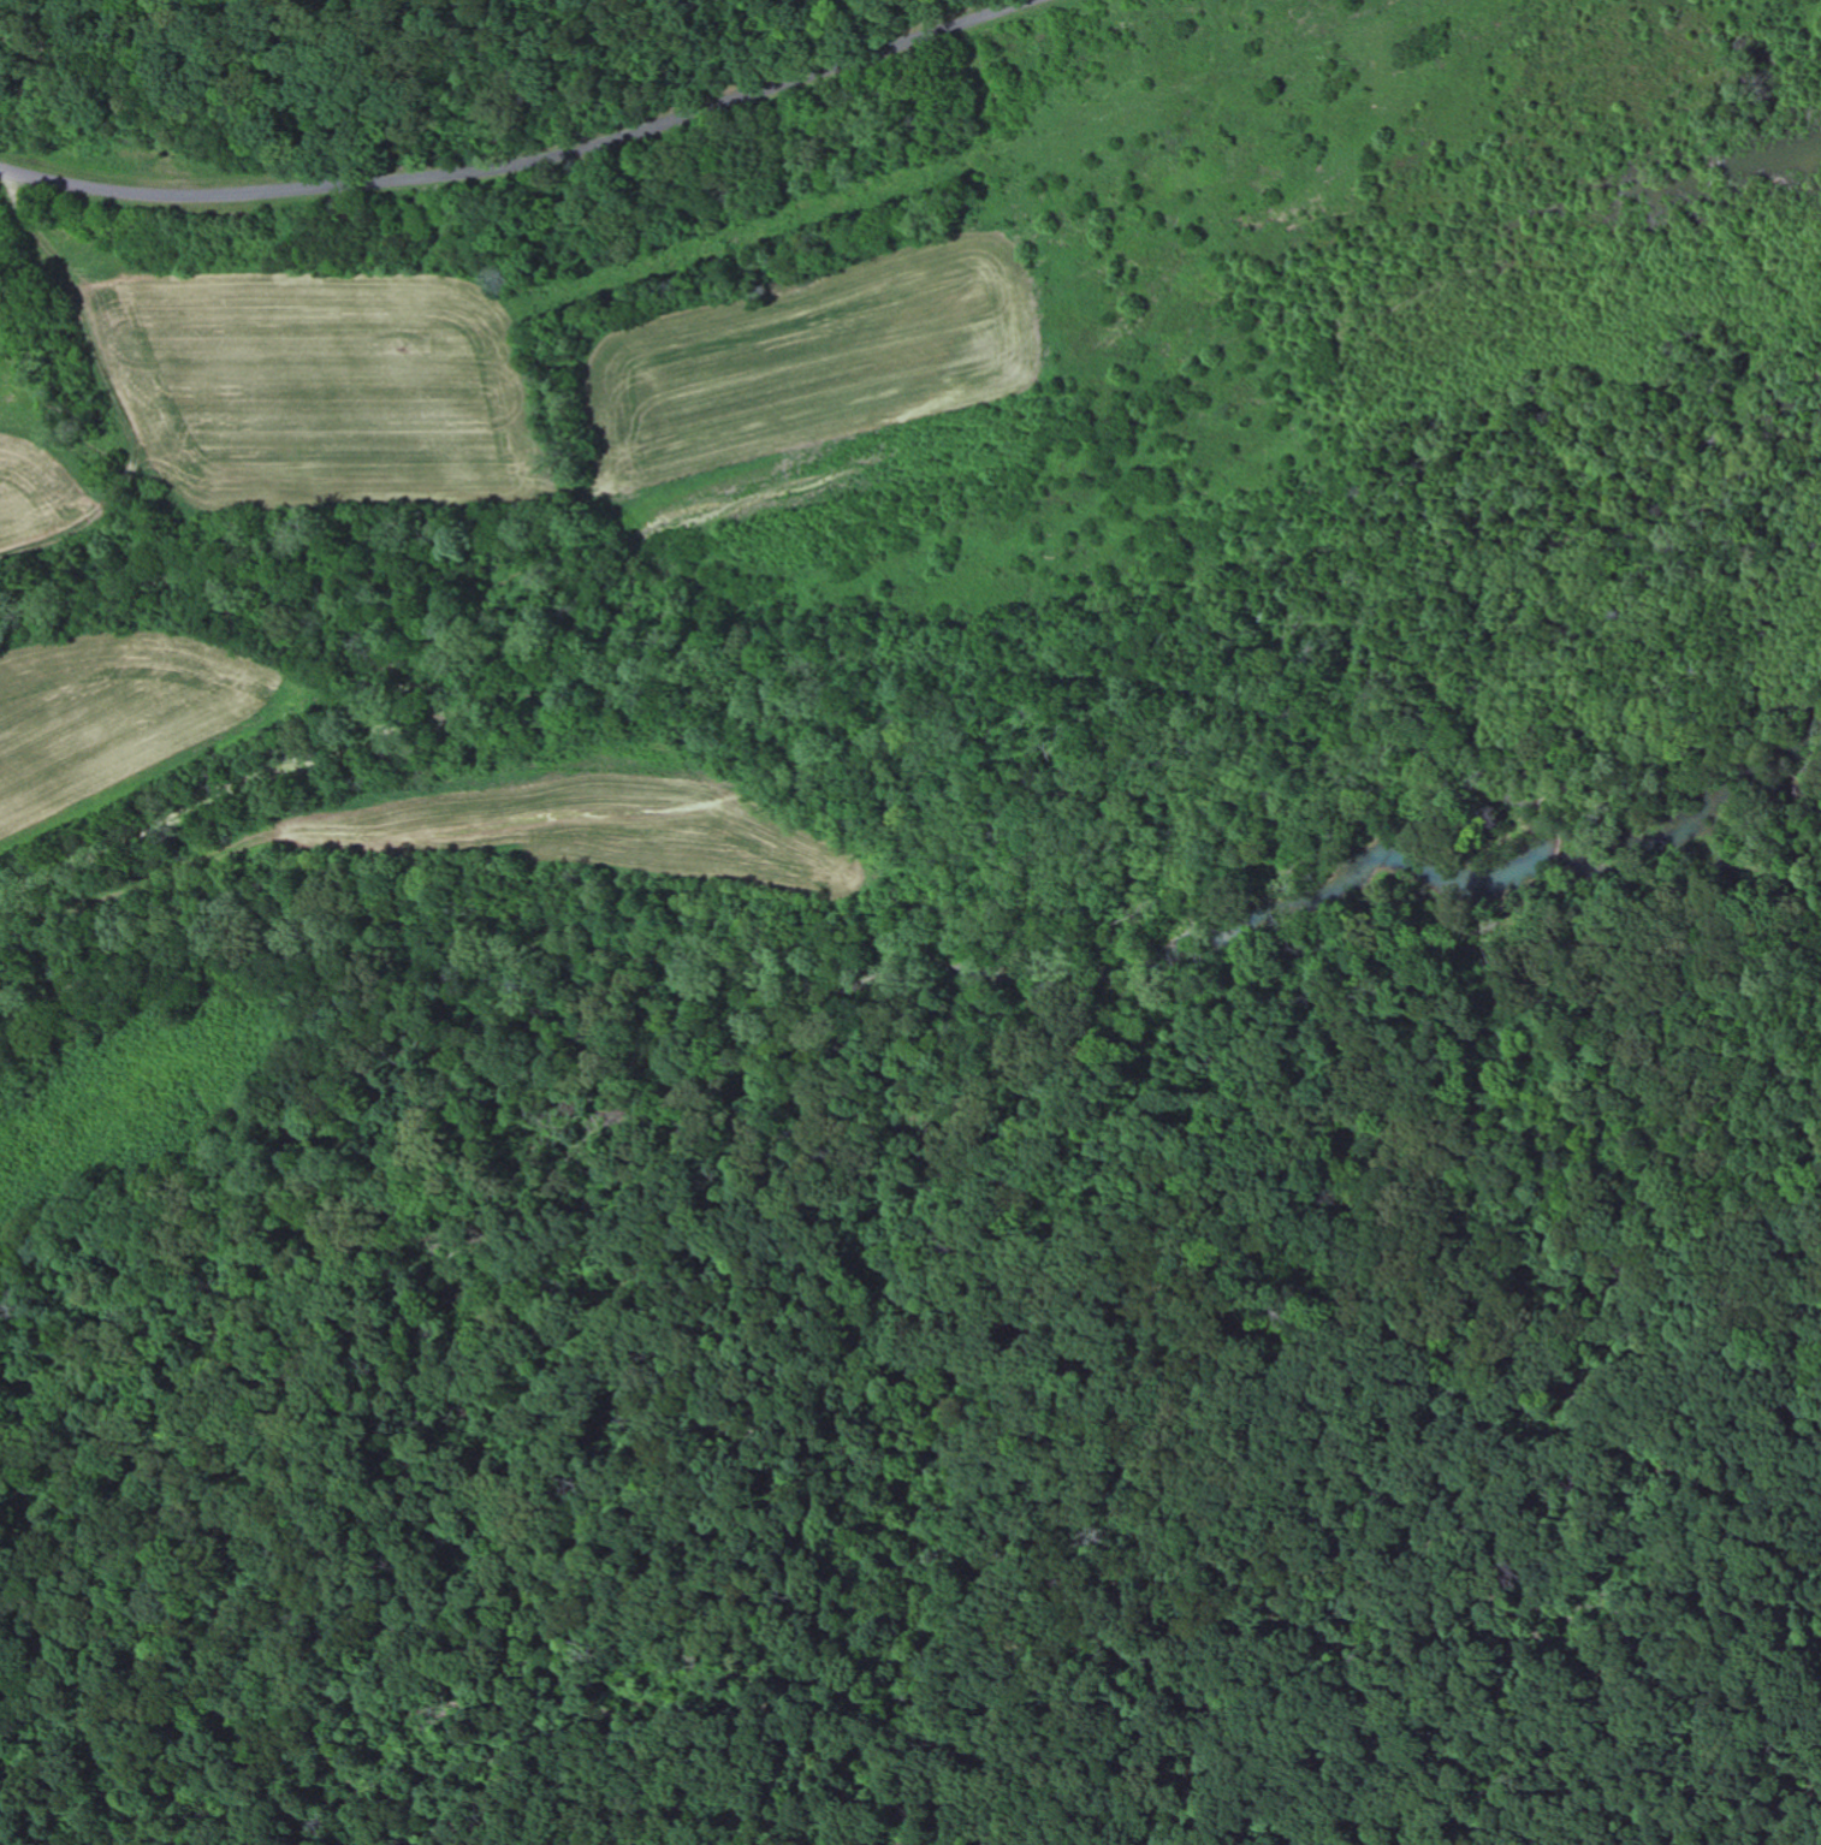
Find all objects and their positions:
road: (530, 164)
road: (113, 393)

